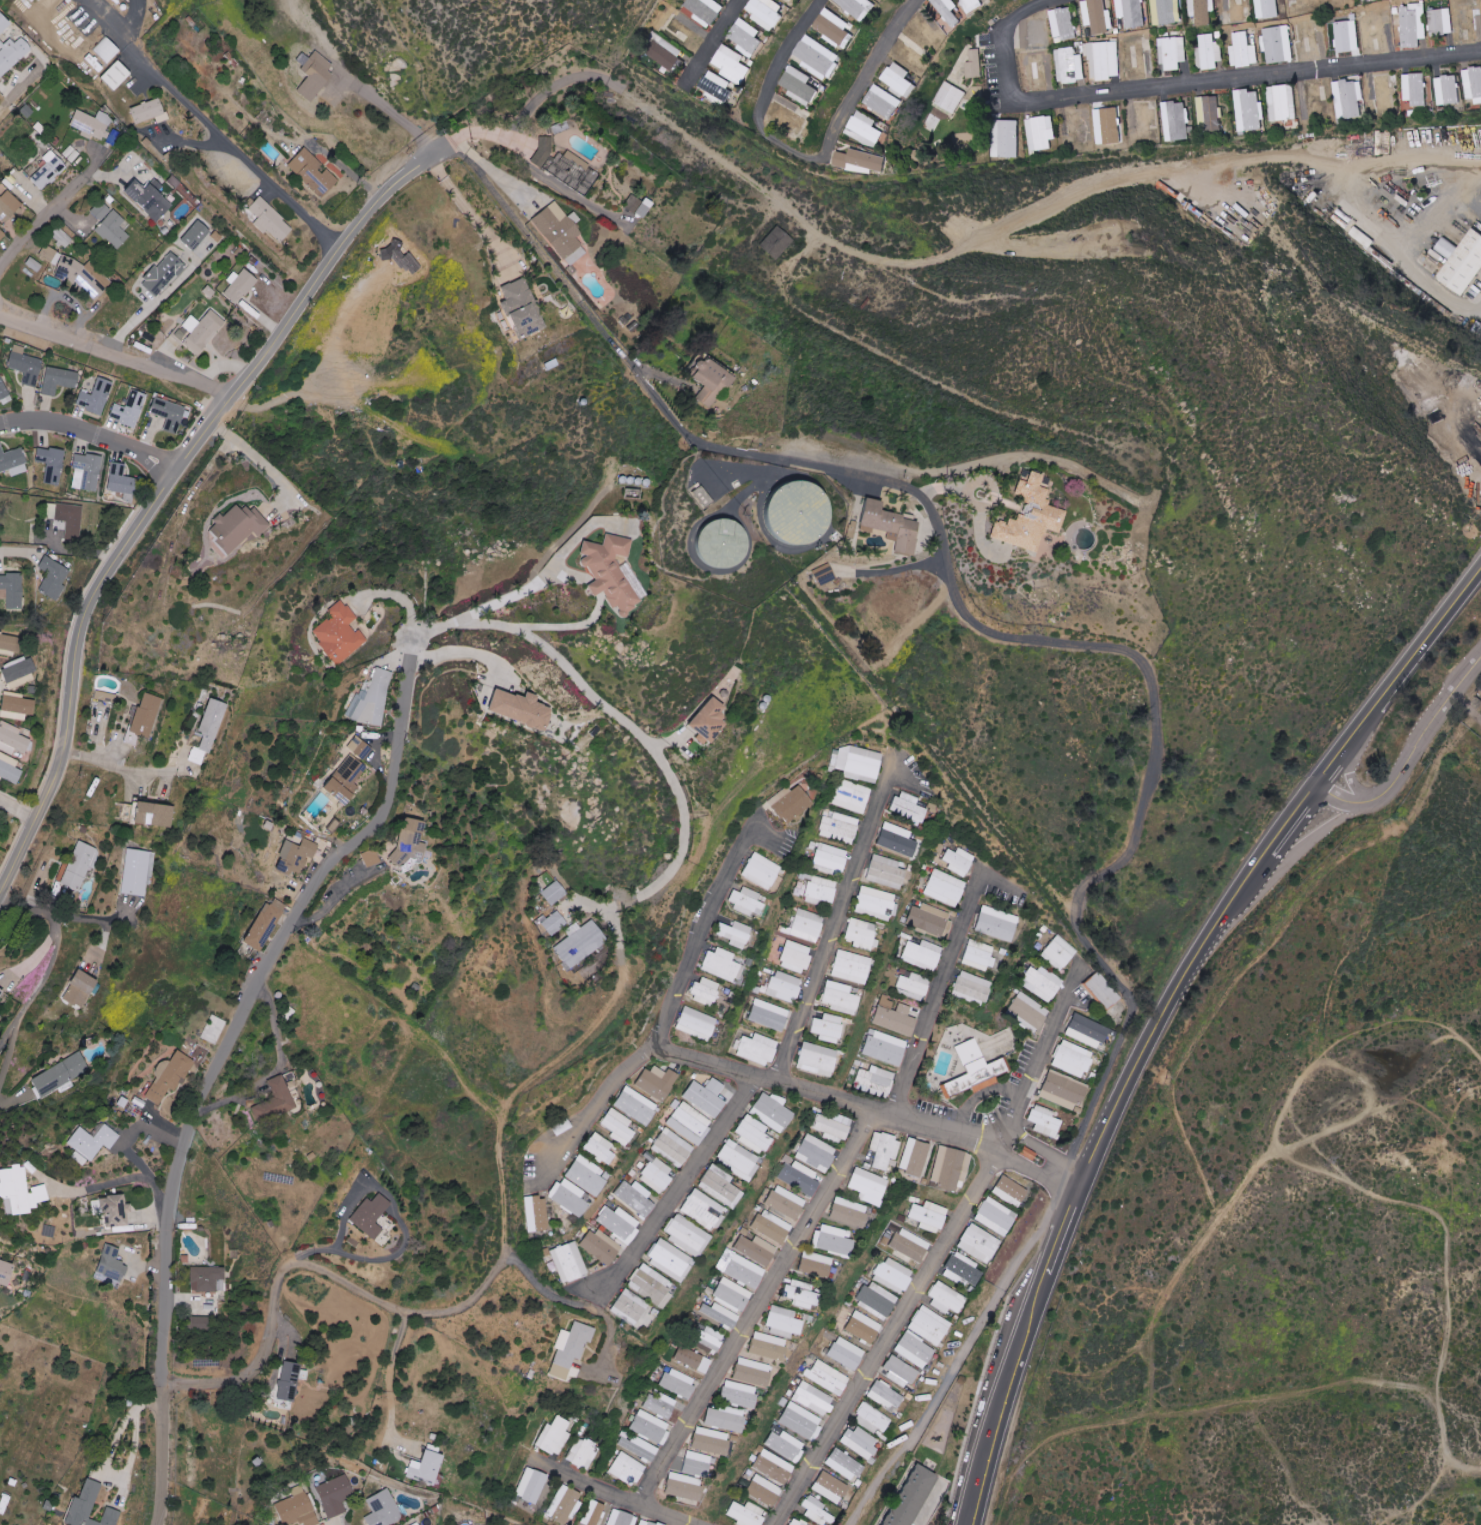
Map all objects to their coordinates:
building: (972, 4)
building: (858, 7)
building: (704, 10)
building: (947, 11)
building: (1166, 11)
building: (1131, 12)
building: (764, 14)
building: (1097, 16)
building: (1440, 21)
building: (4, 23)
building: (1062, 23)
building: (1412, 25)
building: (833, 27)
building: (745, 37)
road: (719, 38)
building: (1277, 44)
building: (107, 48)
building: (1242, 50)
building: (1209, 51)
building: (663, 52)
building: (1172, 52)
building: (12, 54)
building: (816, 56)
building: (1103, 60)
building: (731, 64)
building: (972, 64)
building: (1070, 65)
building: (1040, 71)
road: (875, 73)
building: (118, 74)
building: (316, 76)
building: (897, 77)
road: (556, 82)
building: (1473, 84)
building: (798, 85)
building: (1415, 89)
road: (1176, 90)
building: (1447, 90)
road: (767, 96)
building: (949, 98)
building: (1347, 98)
building: (880, 101)
building: (1282, 102)
road: (4, 109)
road: (390, 109)
building: (150, 111)
building: (1249, 111)
building: (1209, 112)
building: (1176, 120)
building: (91, 123)
building: (865, 126)
road: (211, 127)
building: (1039, 132)
road: (490, 136)
building: (71, 153)
building: (858, 161)
road: (1356, 164)
building: (49, 170)
building: (314, 172)
road: (494, 174)
building: (174, 181)
building: (151, 198)
building: (627, 205)
building: (9, 206)
building: (637, 207)
road: (66, 209)
building: (101, 210)
road: (466, 211)
building: (270, 219)
building: (114, 229)
building: (558, 232)
building: (1, 234)
building: (197, 235)
building: (63, 238)
building: (772, 243)
building: (1445, 247)
road: (1396, 249)
building: (50, 254)
building: (1463, 263)
building: (34, 264)
road: (913, 264)
building: (69, 268)
building: (164, 273)
building: (239, 285)
road: (66, 295)
building: (517, 308)
building: (202, 331)
road: (114, 355)
building: (25, 365)
building: (59, 380)
building: (707, 382)
building: (4, 391)
building: (95, 397)
building: (129, 409)
building: (169, 414)
road: (92, 424)
road: (253, 456)
building: (13, 461)
building: (52, 464)
building: (86, 472)
road: (170, 478)
building: (122, 482)
building: (51, 511)
building: (786, 512)
storage tank: (786, 512)
building: (1018, 517)
building: (71, 520)
building: (877, 526)
building: (238, 527)
building: (710, 543)
storage tank: (710, 543)
road: (15, 554)
road: (890, 572)
building: (587, 573)
building: (816, 575)
building: (54, 577)
building: (13, 590)
road: (519, 591)
road: (379, 602)
building: (331, 634)
road: (1061, 641)
building: (10, 644)
road: (449, 652)
building: (20, 670)
building: (105, 696)
building: (359, 700)
road: (1467, 704)
building: (17, 706)
road: (1479, 708)
building: (509, 710)
building: (144, 717)
road: (622, 719)
building: (702, 720)
building: (211, 725)
building: (13, 739)
building: (344, 749)
road: (1408, 756)
building: (857, 763)
road: (116, 767)
building: (9, 769)
road: (1349, 770)
building: (330, 780)
building: (850, 796)
building: (787, 804)
building: (905, 807)
road: (17, 809)
building: (154, 814)
building: (837, 827)
building: (893, 840)
building: (399, 843)
building: (283, 857)
building: (828, 857)
building: (361, 859)
building: (957, 861)
building: (78, 865)
building: (137, 871)
building: (757, 871)
building: (881, 872)
building: (942, 888)
building: (818, 890)
building: (550, 893)
building: (742, 901)
building: (873, 903)
road: (838, 908)
building: (927, 920)
building: (551, 923)
building: (993, 923)
road: (90, 924)
building: (253, 924)
building: (803, 926)
building: (732, 934)
building: (859, 934)
building: (577, 944)
building: (1057, 952)
building: (919, 955)
building: (975, 956)
building: (793, 957)
building: (718, 964)
building: (848, 967)
road: (944, 971)
road: (45, 975)
building: (1040, 983)
building: (782, 986)
building: (912, 986)
building: (81, 989)
road: (670, 989)
building: (968, 989)
building: (701, 991)
building: (1098, 991)
building: (1, 992)
building: (837, 997)
road: (1161, 1012)
building: (765, 1015)
building: (891, 1016)
building: (693, 1024)
building: (220, 1028)
building: (825, 1028)
building: (1083, 1031)
building: (881, 1047)
building: (754, 1049)
building: (1069, 1058)
building: (814, 1059)
road: (210, 1060)
road: (275, 1069)
building: (970, 1071)
building: (61, 1073)
building: (176, 1075)
building: (873, 1077)
building: (653, 1083)
building: (712, 1087)
building: (1059, 1090)
road: (979, 1094)
building: (701, 1099)
building: (278, 1100)
road: (5, 1102)
building: (631, 1106)
road: (865, 1109)
building: (766, 1111)
building: (1041, 1121)
building: (688, 1123)
building: (614, 1127)
building: (833, 1127)
building: (748, 1134)
road: (118, 1135)
building: (100, 1139)
building: (596, 1148)
building: (670, 1148)
building: (814, 1153)
building: (911, 1158)
building: (733, 1161)
building: (945, 1169)
building: (654, 1173)
building: (581, 1176)
building: (797, 1178)
road: (122, 1181)
road: (679, 1186)
building: (864, 1186)
building: (25, 1188)
building: (715, 1188)
building: (1006, 1191)
building: (567, 1198)
building: (633, 1198)
building: (782, 1202)
building: (698, 1210)
building: (844, 1212)
building: (534, 1214)
building: (371, 1215)
building: (927, 1216)
building: (992, 1217)
building: (617, 1223)
building: (769, 1226)
building: (681, 1236)
building: (829, 1240)
building: (975, 1243)
building: (907, 1245)
building: (599, 1246)
building: (753, 1249)
road: (943, 1250)
building: (665, 1258)
road: (349, 1259)
building: (567, 1262)
building: (112, 1263)
building: (810, 1264)
building: (739, 1269)
road: (524, 1270)
building: (959, 1270)
building: (7, 1271)
building: (890, 1273)
building: (207, 1278)
building: (798, 1285)
building: (648, 1287)
building: (730, 1295)
building: (796, 1297)
building: (943, 1298)
building: (874, 1300)
building: (625, 1305)
road: (274, 1307)
road: (756, 1308)
building: (718, 1314)
building: (779, 1321)
building: (203, 1323)
building: (855, 1324)
building: (927, 1325)
building: (704, 1339)
building: (763, 1346)
building: (571, 1348)
building: (912, 1349)
building: (843, 1353)
building: (690, 1359)
building: (898, 1369)
building: (748, 1372)
building: (826, 1377)
building: (291, 1379)
road: (390, 1381)
building: (676, 1383)
building: (734, 1394)
building: (882, 1396)
building: (812, 1398)
building: (660, 1405)
building: (721, 1418)
building: (871, 1420)
building: (799, 1421)
building: (650, 1427)
building: (554, 1436)
building: (711, 1441)
building: (857, 1442)
building: (783, 1444)
building: (638, 1445)
building: (583, 1453)
building: (697, 1464)
building: (841, 1464)
building: (774, 1466)
building: (427, 1467)
building: (627, 1469)
building: (531, 1485)
building: (685, 1486)
building: (829, 1487)
building: (764, 1490)
building: (336, 1494)
road: (608, 1495)
building: (908, 1498)
road: (930, 1502)
building: (567, 1505)
building: (91, 1507)
building: (385, 1509)
building: (299, 1510)
building: (815, 1510)
building: (596, 1513)
building: (746, 1513)
building: (620, 1518)
building: (646, 1522)
building: (796, 1522)

